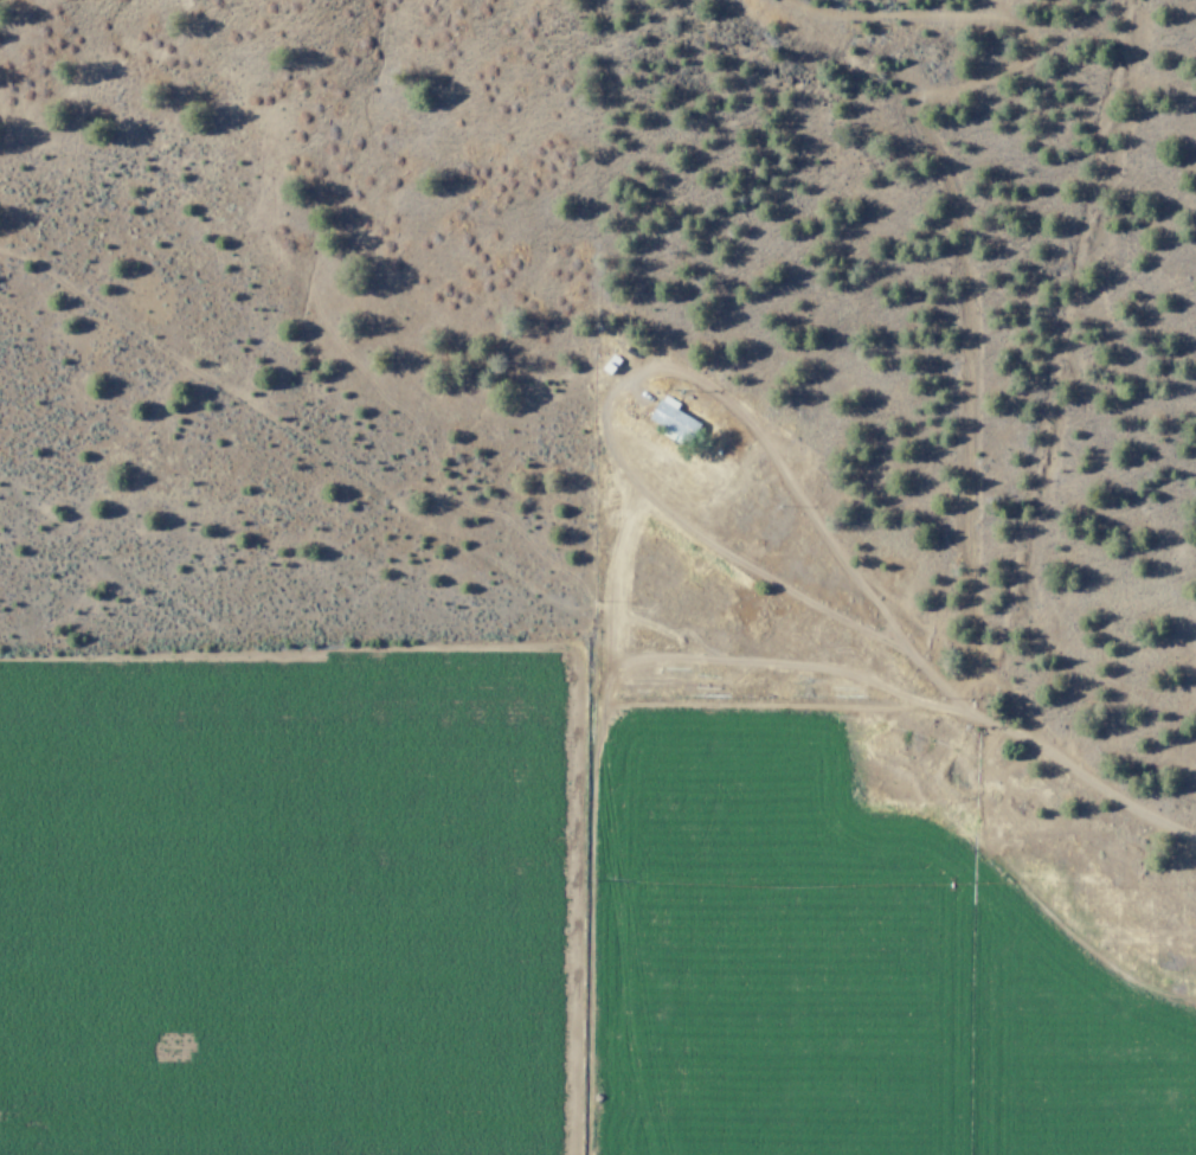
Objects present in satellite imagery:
road: (617, 386)
building: (670, 421)
road: (1046, 756)

